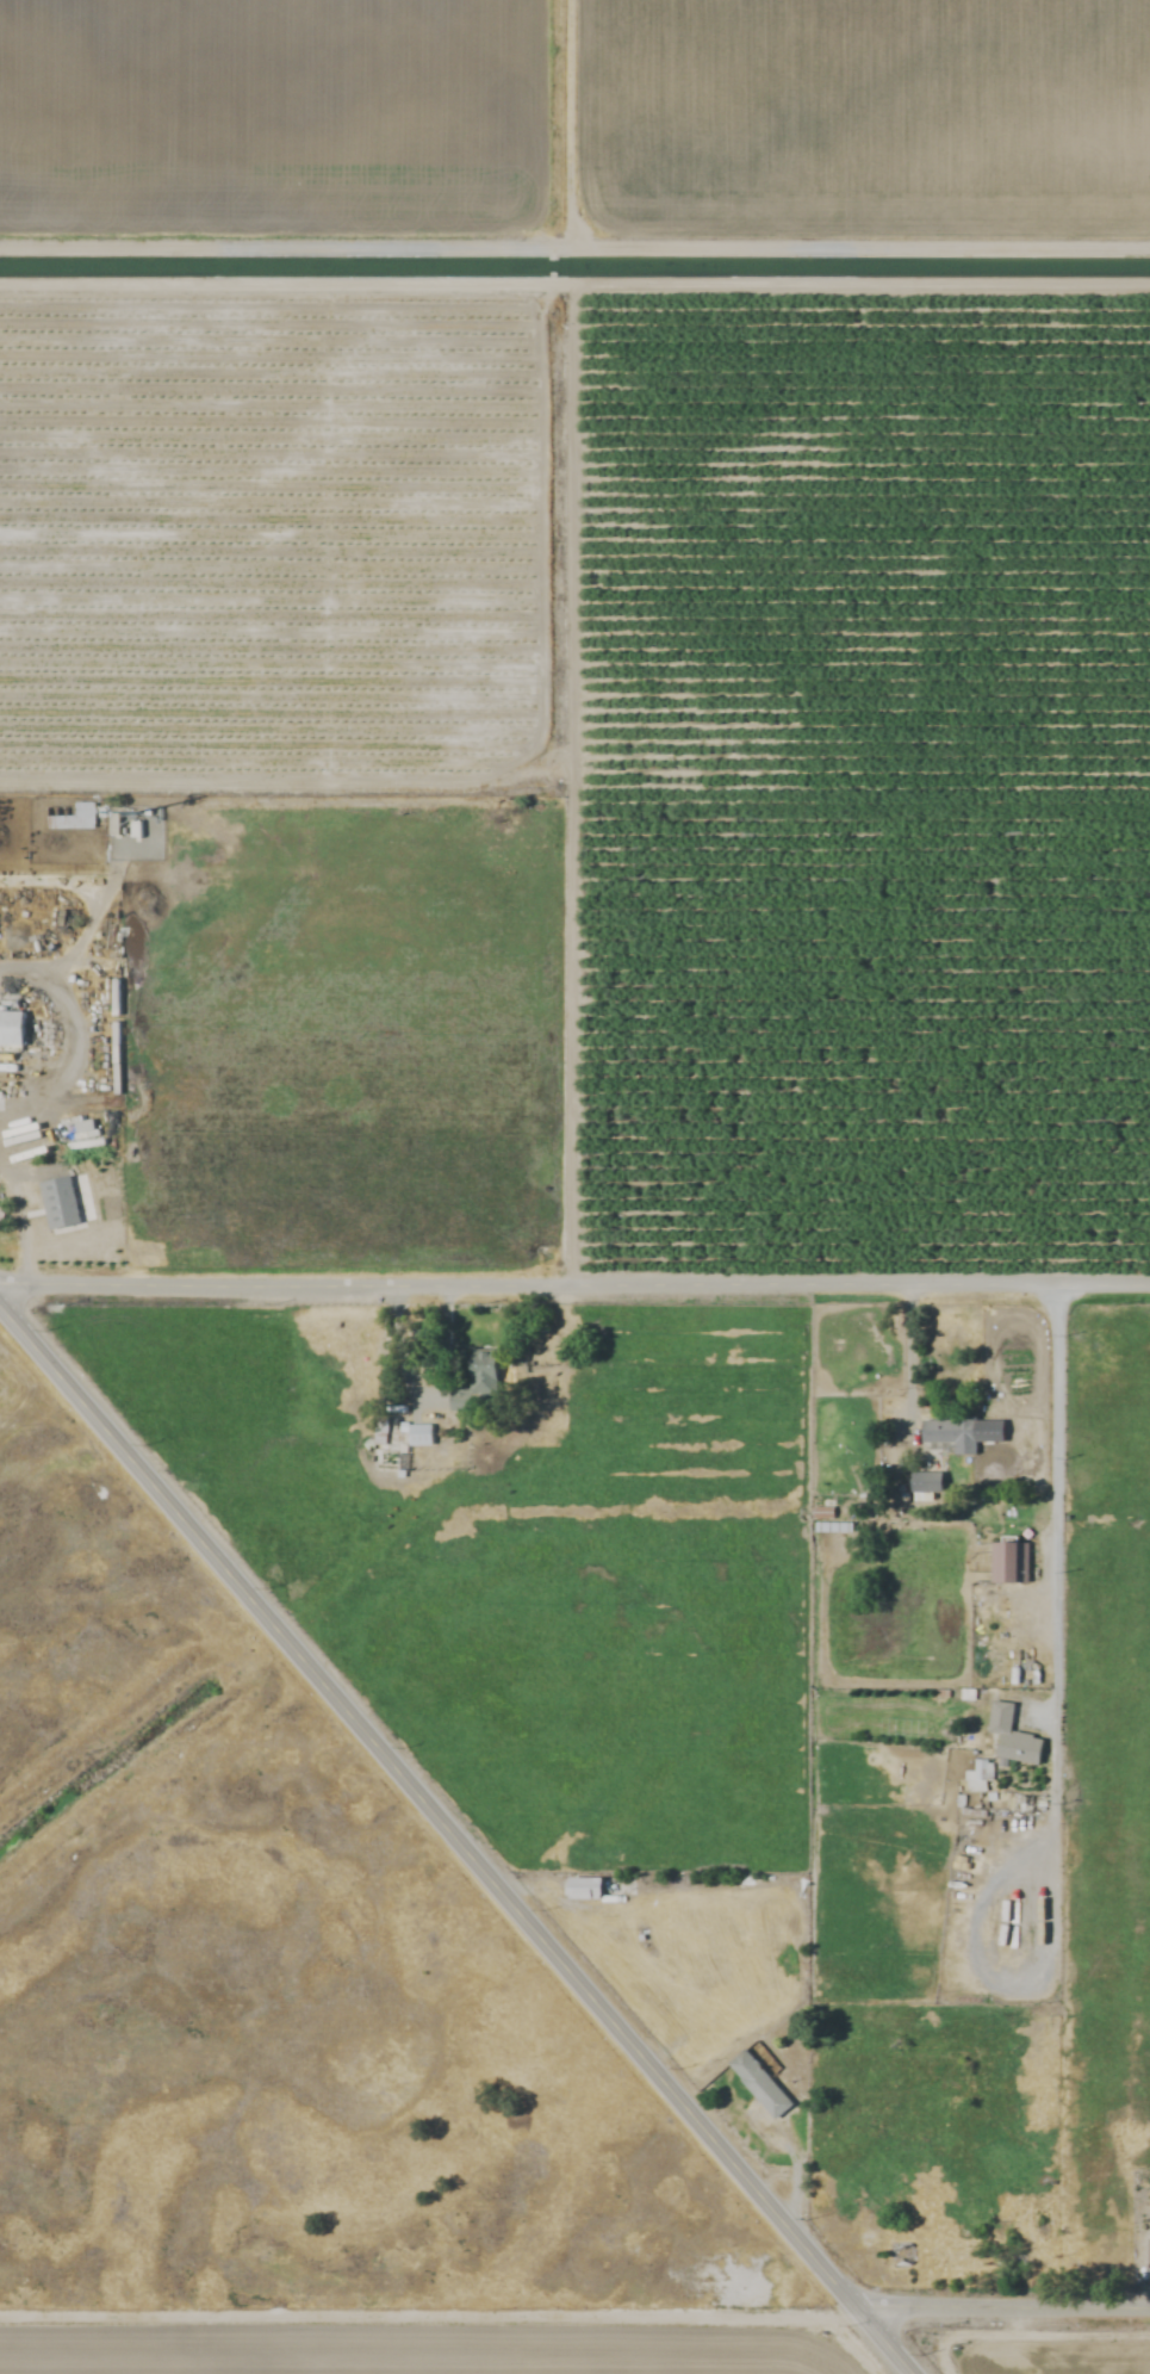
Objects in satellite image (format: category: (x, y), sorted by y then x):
road: (574, 286)
building: (69, 817)
building: (10, 1029)
building: (60, 1203)
road: (574, 1288)
road: (908, 1353)
building: (481, 1374)
building: (417, 1436)
building: (949, 1436)
building: (1008, 1563)
road: (1053, 1572)
building: (1011, 1737)
building: (978, 1777)
road: (456, 1845)
building: (582, 1890)
building: (758, 2084)
building: (1148, 2254)
building: (901, 2256)
road: (1002, 2304)

